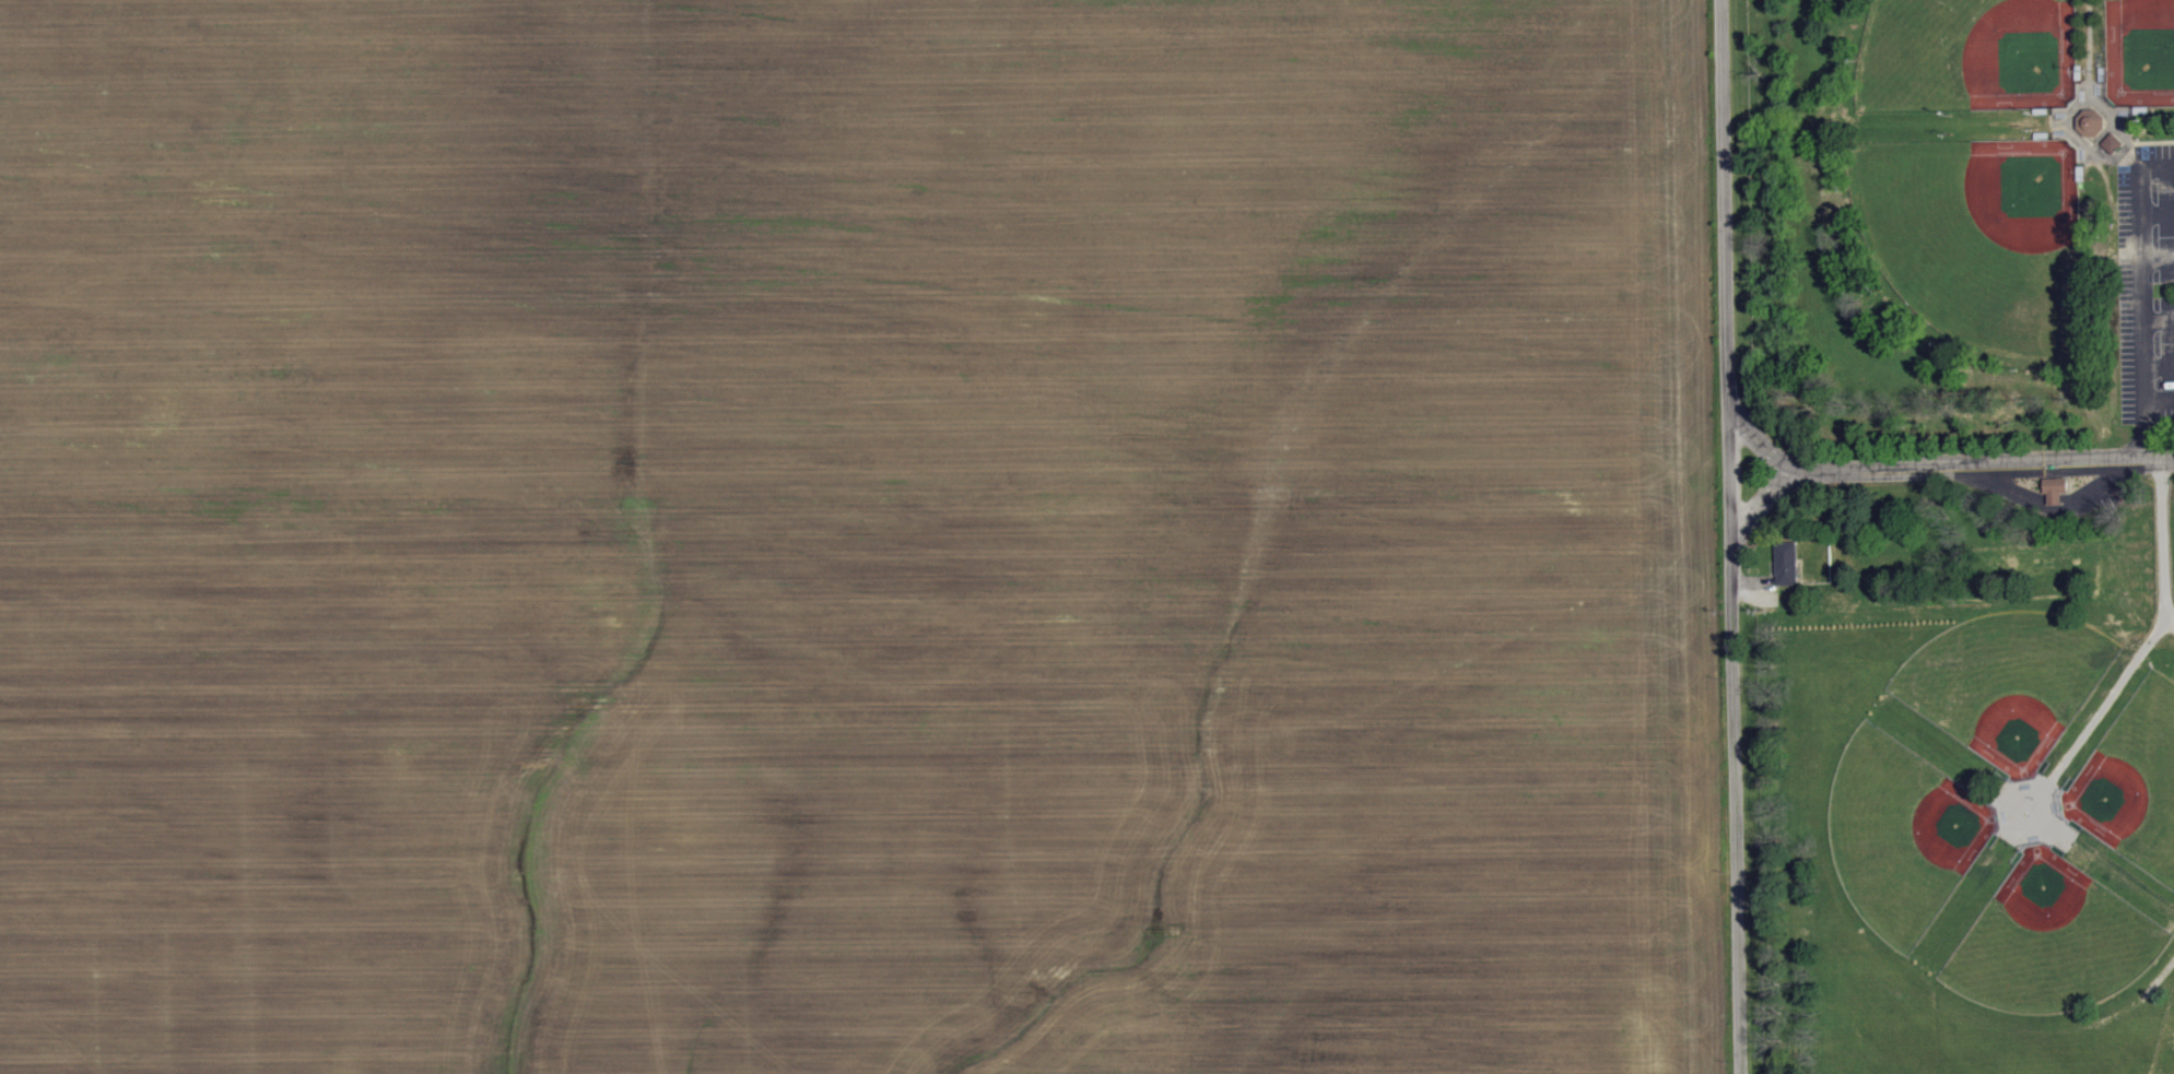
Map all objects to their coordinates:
park: (2140, 52)
park: (1971, 56)
building: (2093, 123)
building: (2114, 144)
road: (2158, 211)
park: (1982, 233)
road: (2158, 258)
road: (2142, 298)
road: (2159, 318)
road: (2159, 365)
road: (2159, 401)
road: (1763, 442)
road: (1938, 463)
building: (2057, 489)
park: (1976, 534)
road: (1731, 536)
road: (2161, 541)
building: (1788, 563)
park: (2009, 680)
road: (2097, 710)
park: (2132, 780)
park: (1902, 831)
park: (2053, 937)

